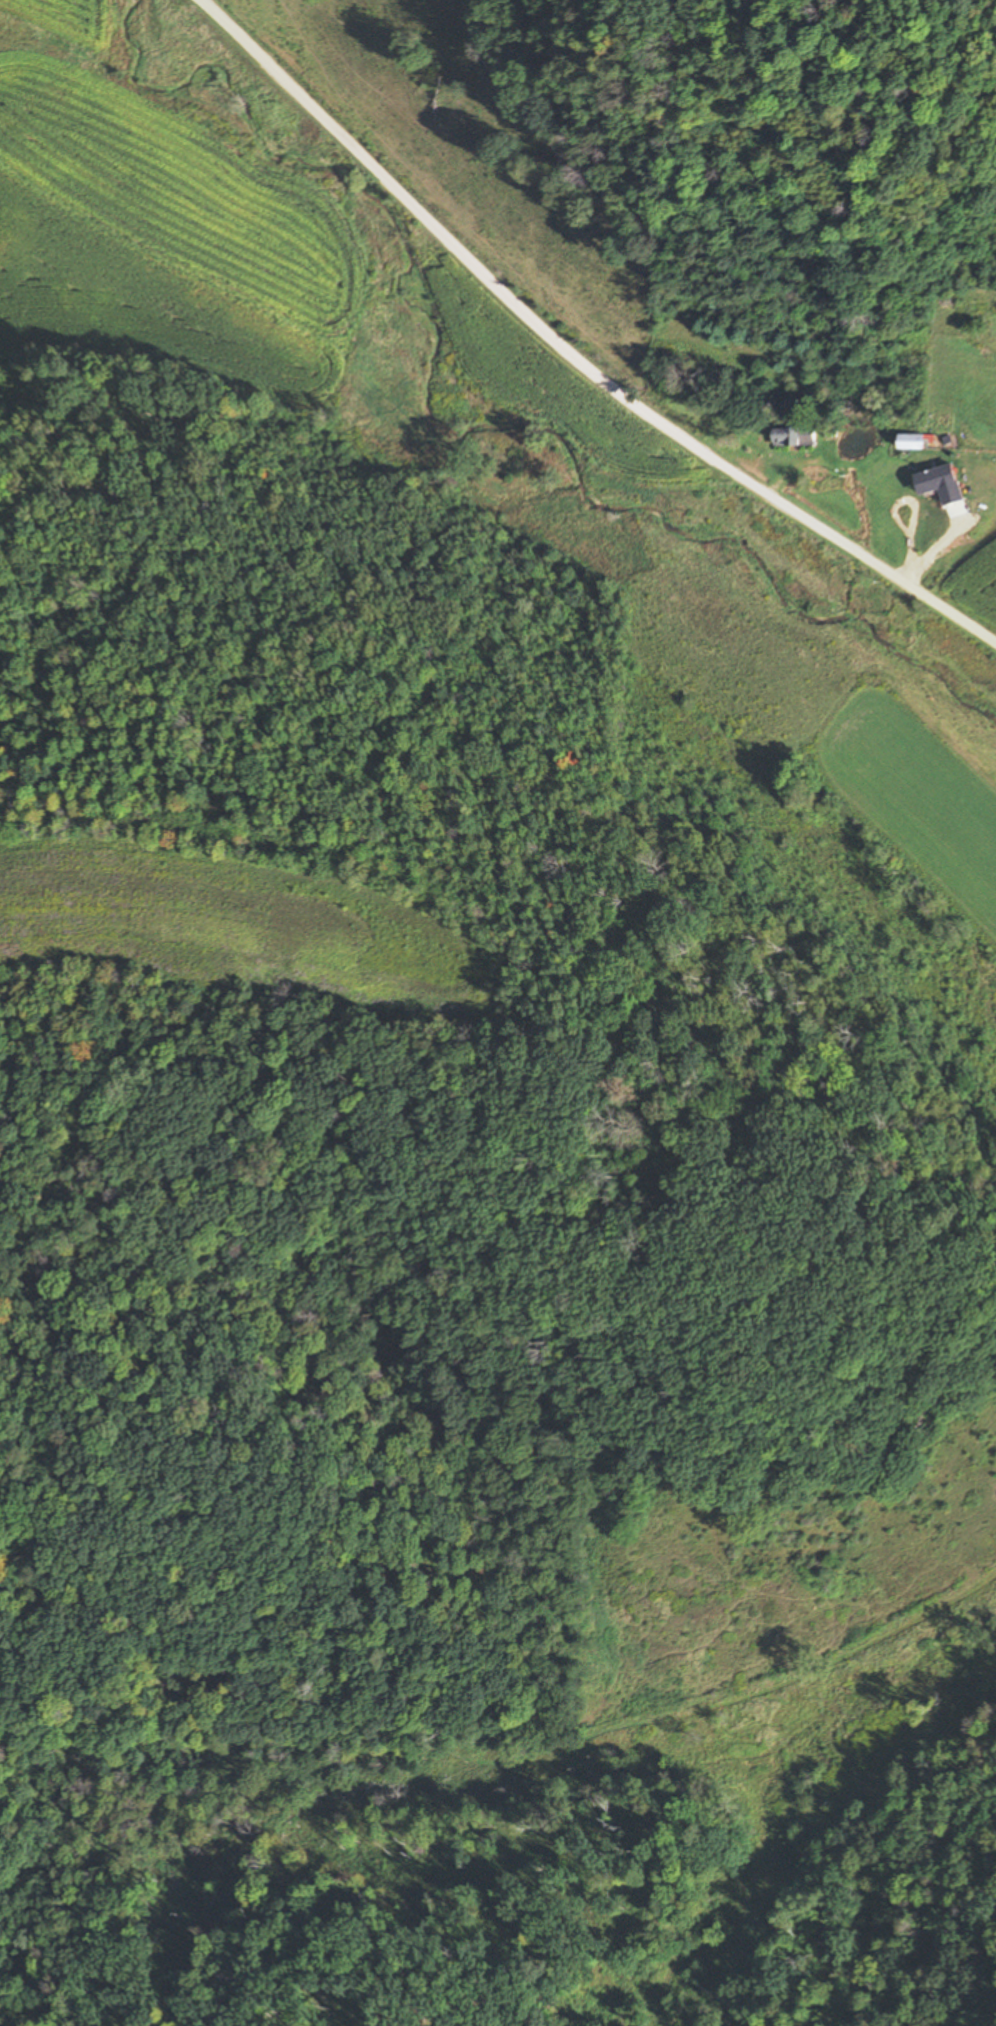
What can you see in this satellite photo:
road: (571, 353)
building: (795, 437)
building: (913, 442)

